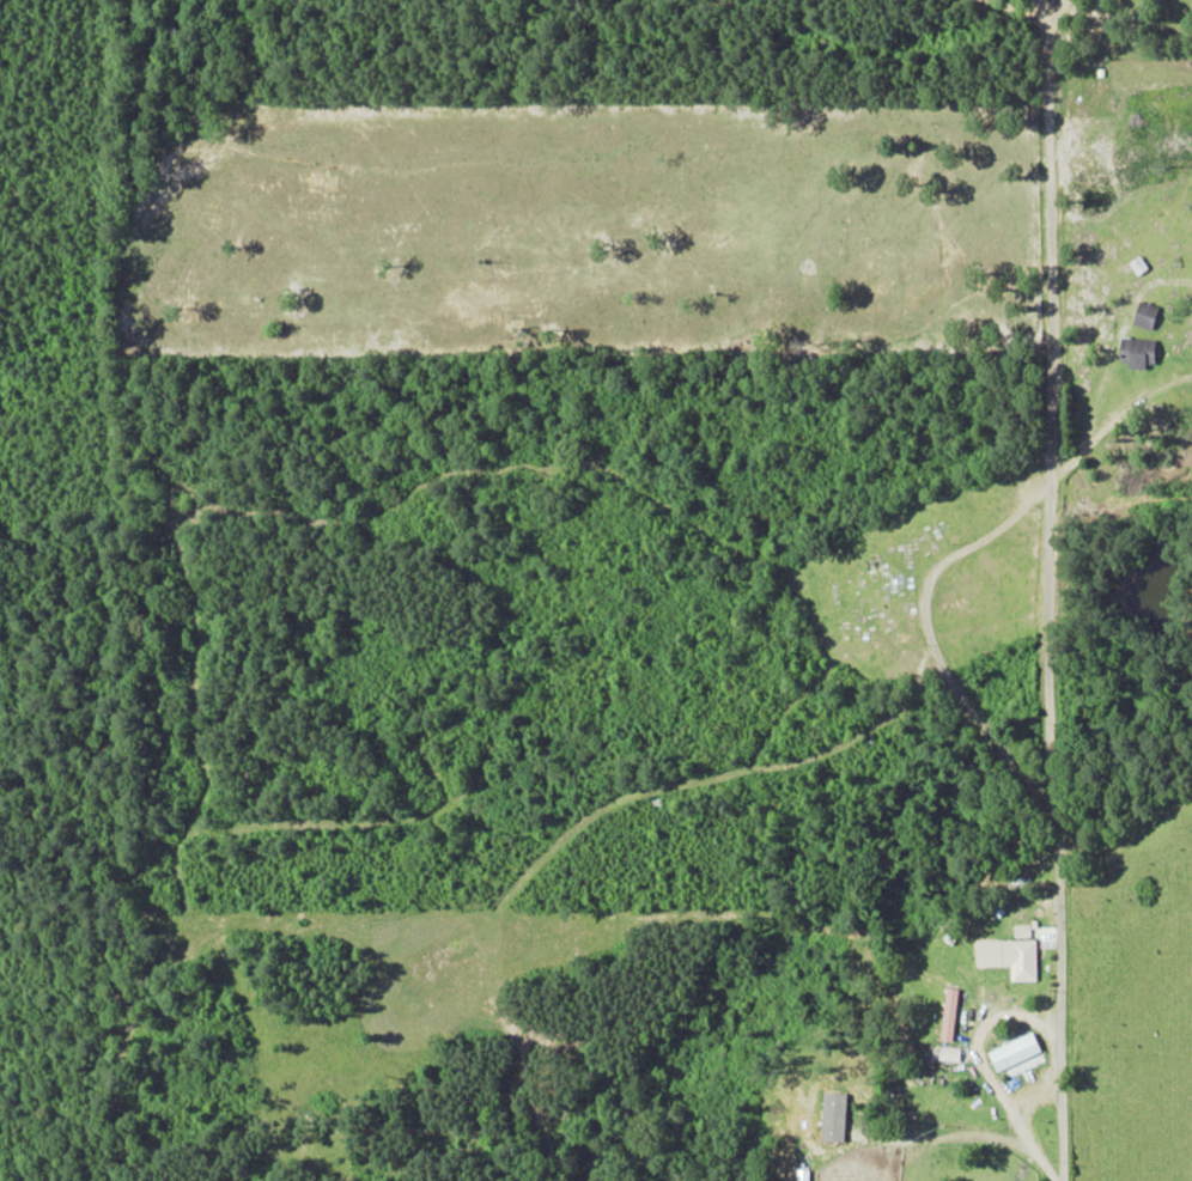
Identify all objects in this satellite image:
building: (1138, 266)
building: (1145, 316)
building: (1138, 353)
road: (1059, 924)
building: (995, 954)
building: (1023, 960)
building: (950, 1013)
building: (953, 1054)
building: (1017, 1054)

